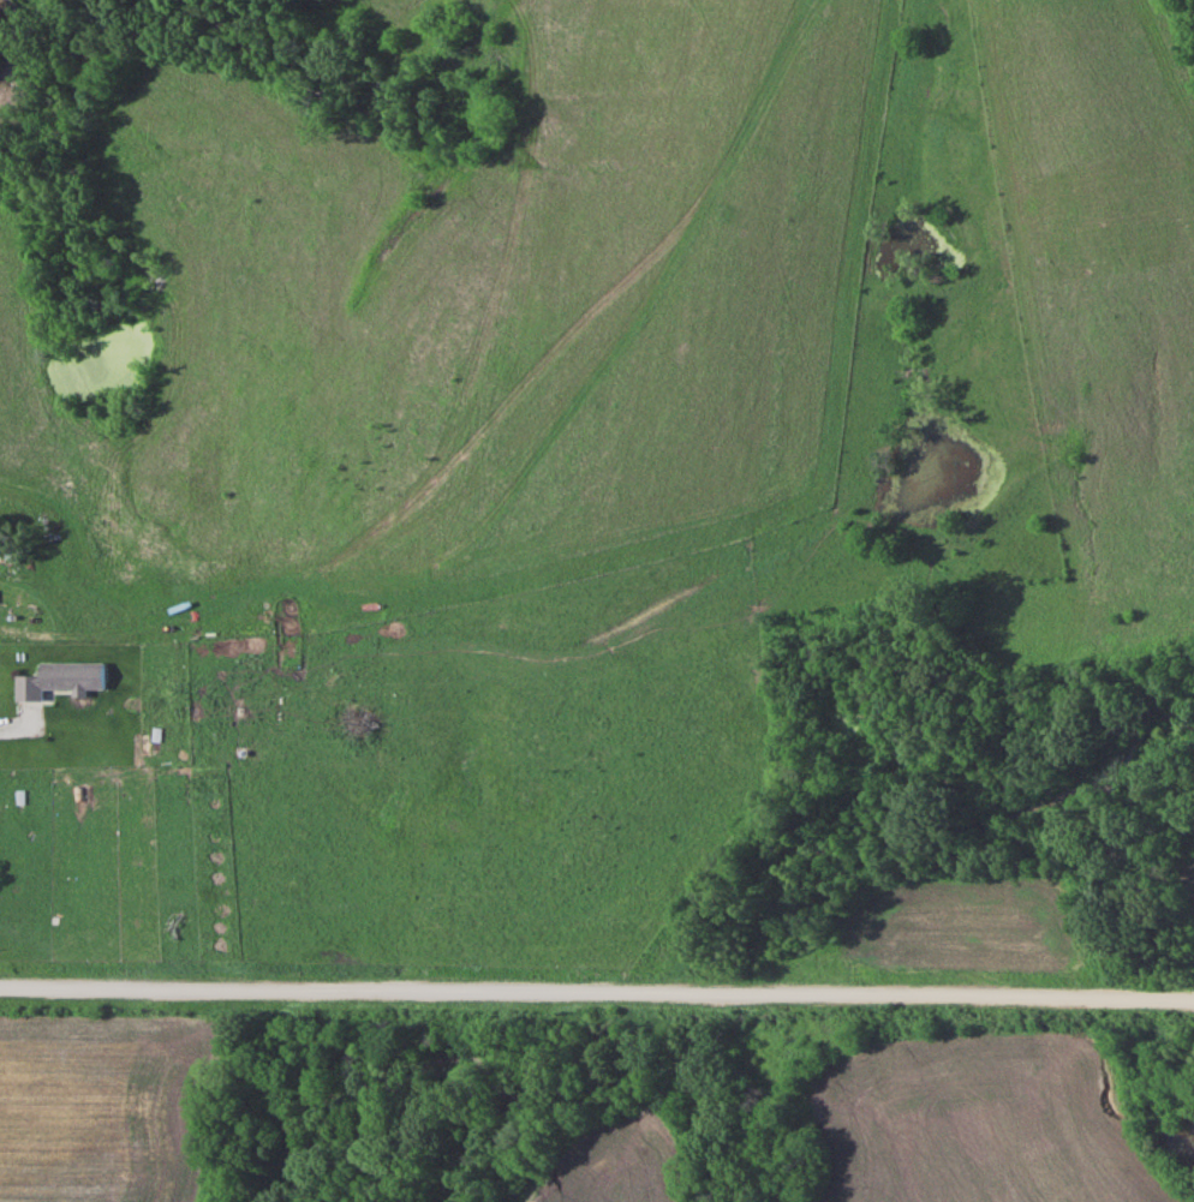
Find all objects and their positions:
building: (7, 562)
building: (56, 677)
road: (597, 987)

